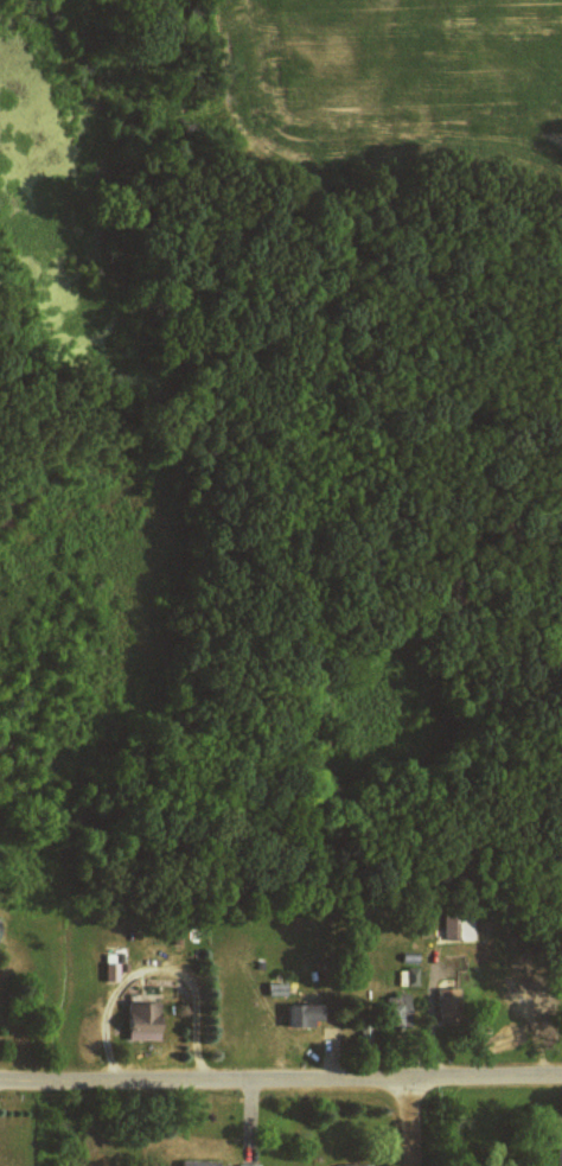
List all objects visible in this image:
building: (451, 928)
building: (2, 937)
building: (404, 976)
building: (391, 1012)
building: (307, 1014)
building: (145, 1020)
road: (280, 1081)
road: (410, 1123)
building: (556, 1153)
building: (202, 1162)
building: (251, 1165)
building: (347, 1165)

